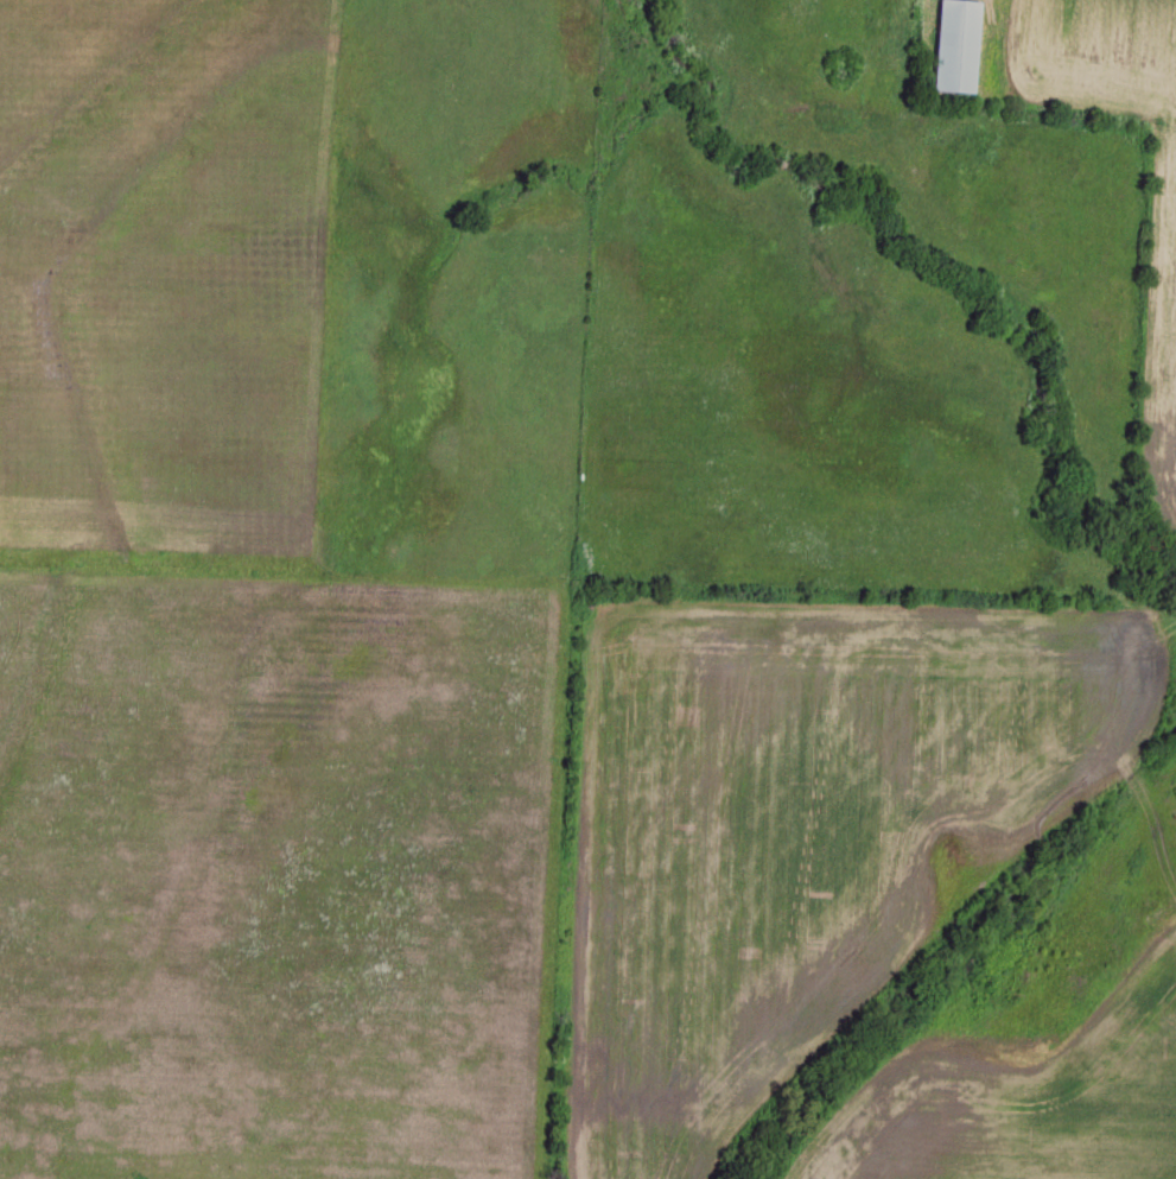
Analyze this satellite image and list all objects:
building: (952, 44)

